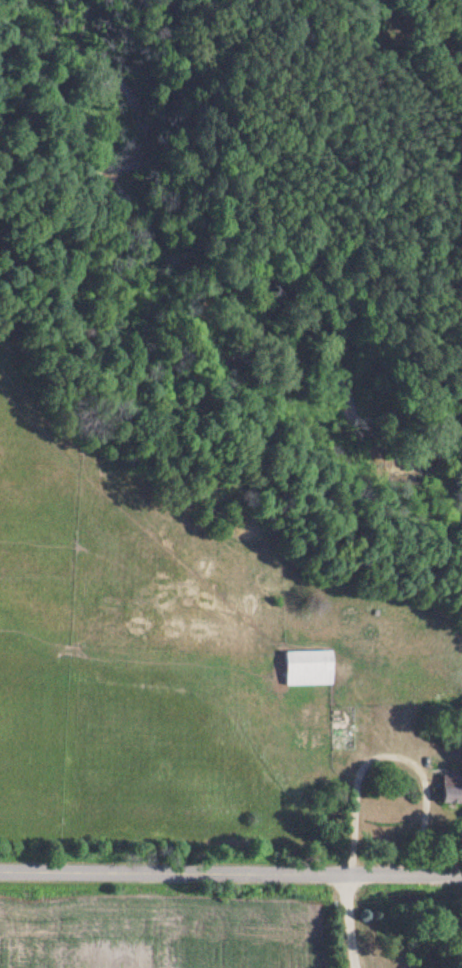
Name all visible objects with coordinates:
building: (306, 669)
building: (450, 791)
road: (231, 872)
road: (349, 922)

